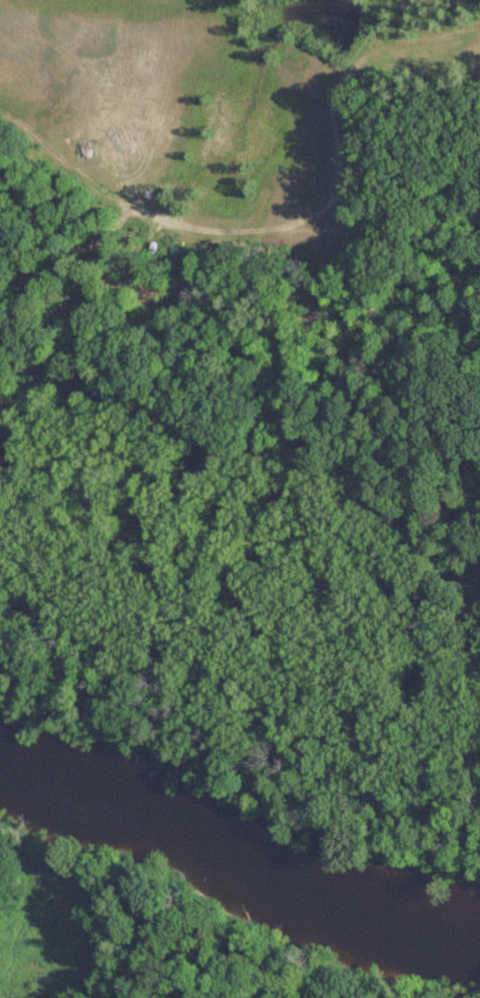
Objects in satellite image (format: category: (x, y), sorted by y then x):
river: (237, 858)

